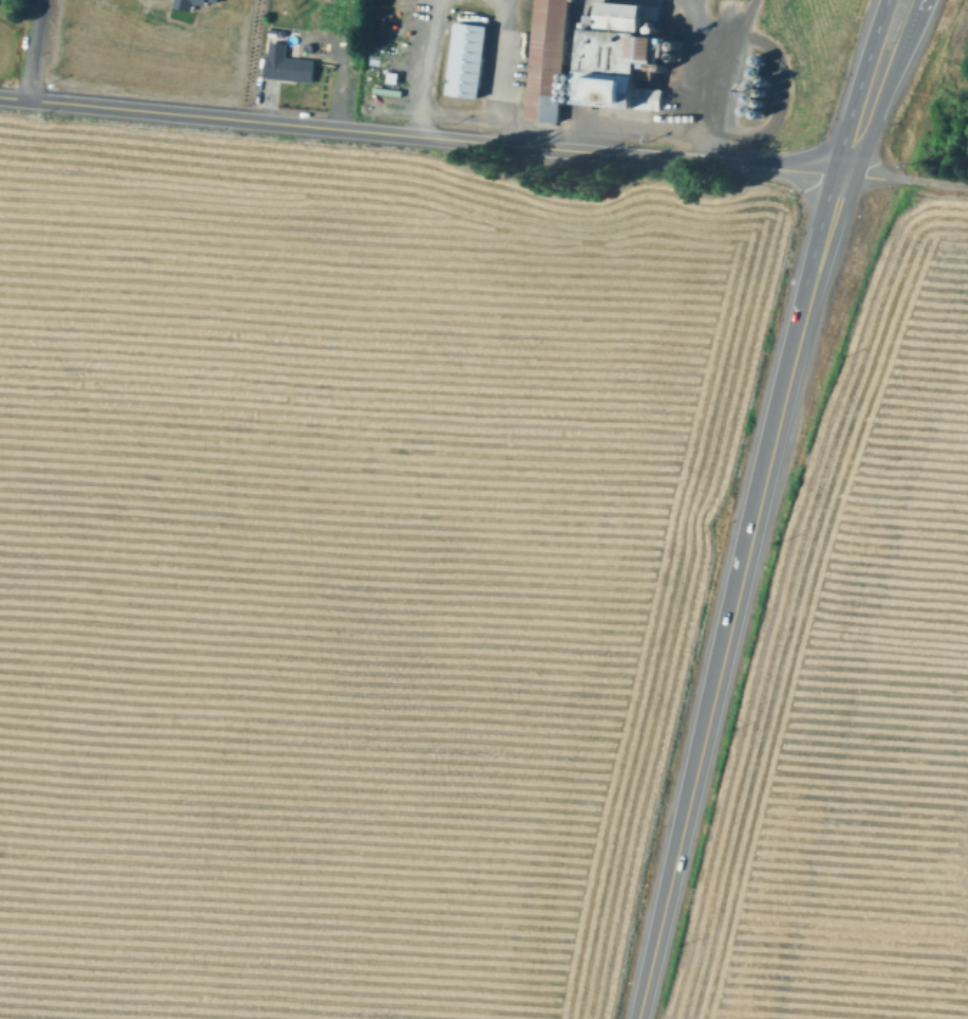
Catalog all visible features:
building: (218, 0)
building: (191, 3)
road: (505, 10)
road: (702, 28)
road: (912, 29)
building: (664, 32)
silo: (664, 32)
building: (684, 48)
silo: (684, 48)
road: (33, 49)
road: (345, 50)
building: (624, 56)
building: (683, 59)
silo: (683, 59)
building: (552, 60)
building: (468, 62)
building: (765, 62)
silo: (765, 62)
road: (429, 67)
building: (291, 69)
road: (504, 71)
building: (670, 71)
building: (762, 74)
silo: (762, 74)
road: (718, 76)
road: (784, 79)
building: (577, 80)
silo: (577, 80)
building: (583, 81)
silo: (583, 81)
building: (775, 85)
silo: (775, 85)
building: (576, 87)
silo: (576, 87)
building: (760, 87)
silo: (760, 87)
building: (582, 88)
silo: (582, 88)
building: (575, 94)
silo: (575, 94)
building: (582, 95)
silo: (582, 95)
building: (773, 95)
silo: (773, 95)
building: (655, 100)
building: (757, 100)
silo: (757, 100)
building: (575, 101)
silo: (575, 101)
building: (581, 102)
silo: (581, 102)
building: (770, 106)
silo: (770, 106)
building: (754, 112)
silo: (754, 112)
building: (767, 117)
silo: (767, 117)
road: (851, 119)
road: (566, 126)
road: (429, 137)
road: (913, 180)
road: (849, 207)
road: (803, 297)
crop: (345, 565)
road: (718, 687)
crop: (858, 695)

